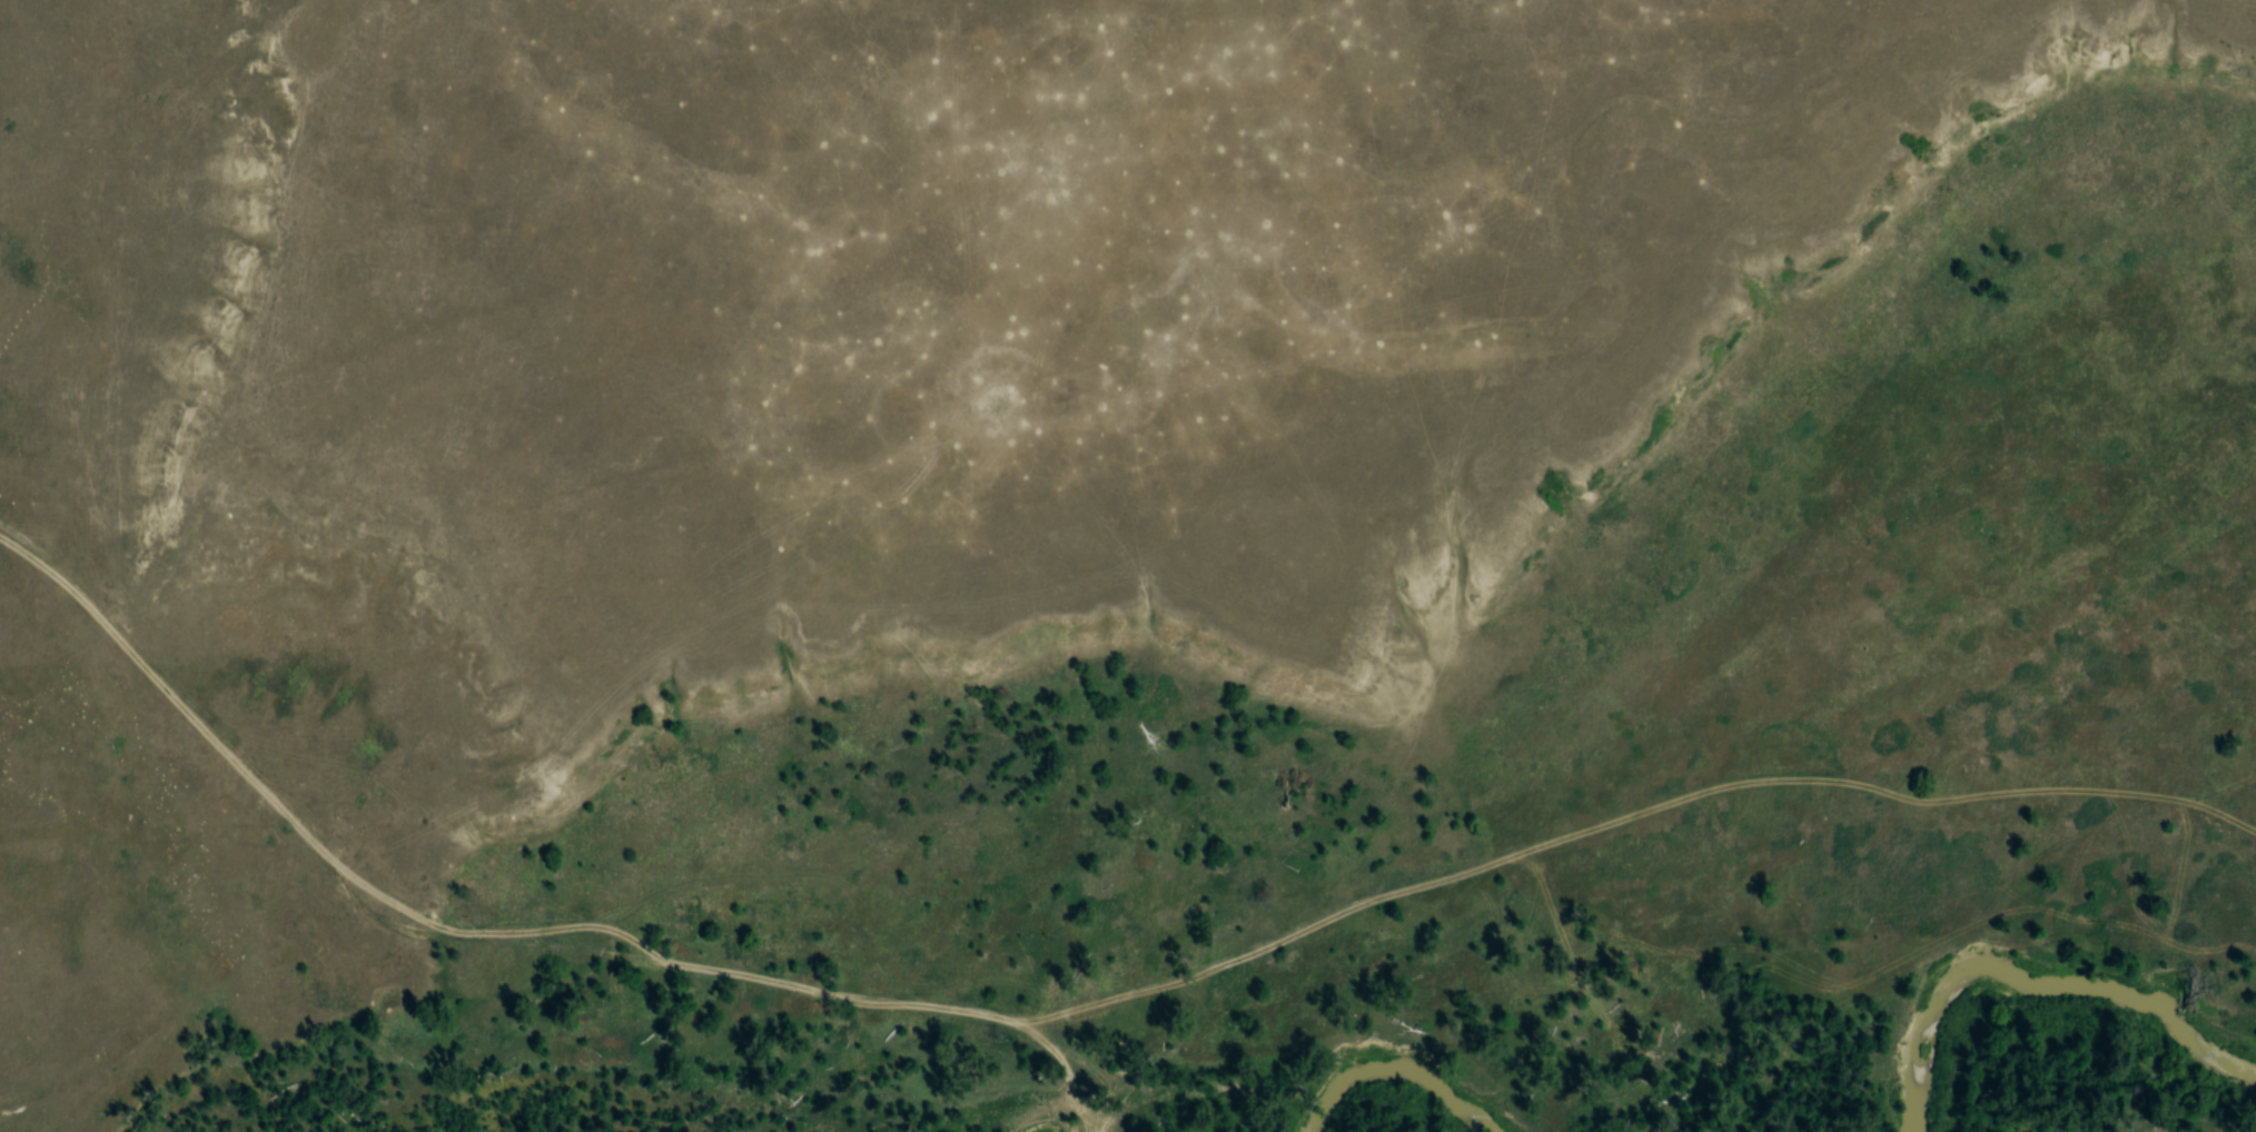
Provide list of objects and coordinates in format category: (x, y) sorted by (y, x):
road: (1060, 952)
river: (2037, 984)
river: (1394, 1070)

